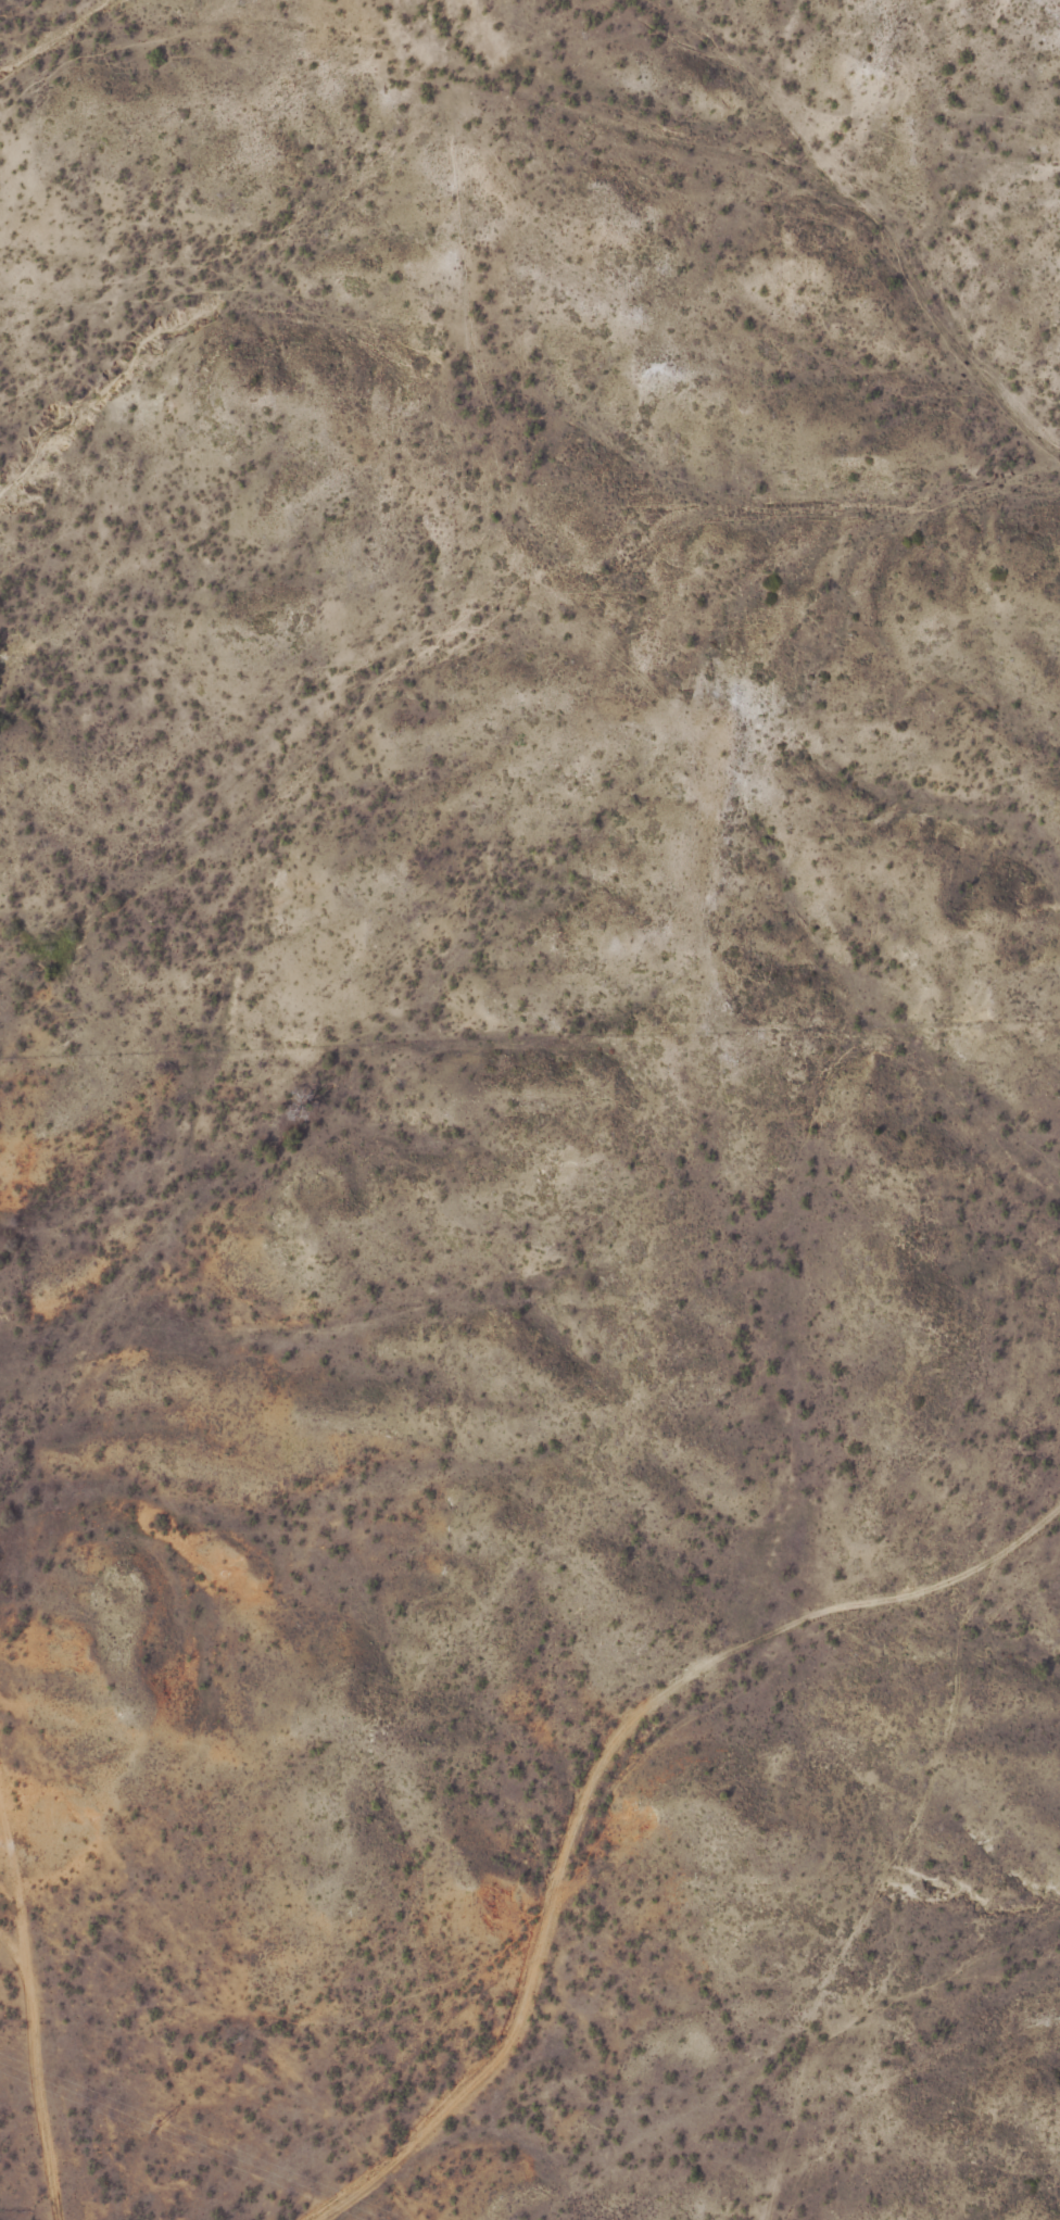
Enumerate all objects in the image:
power tower: (156, 2124)

